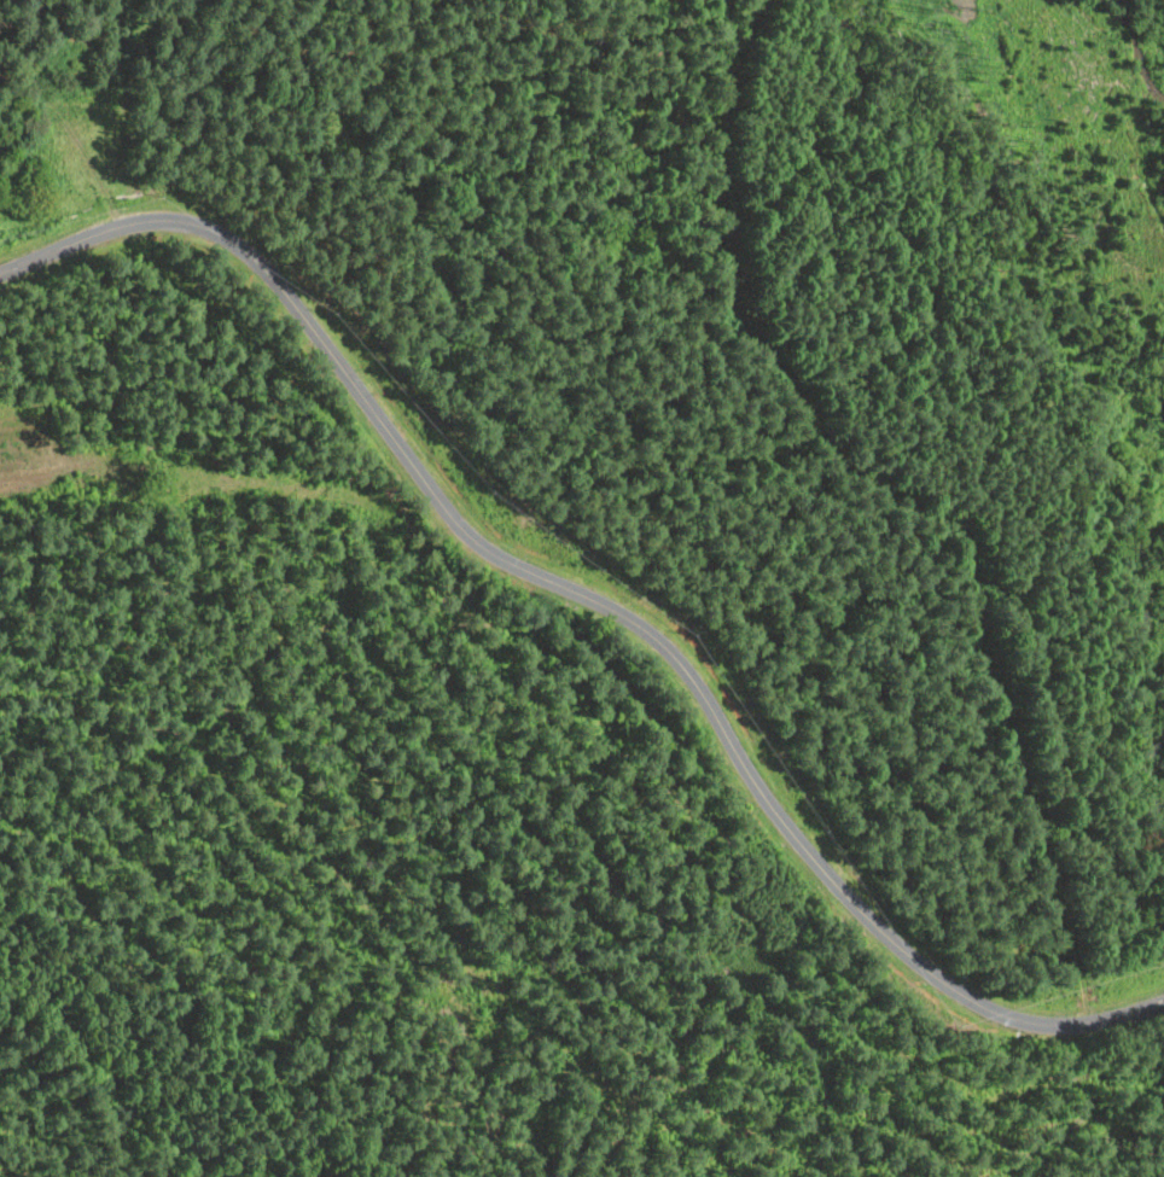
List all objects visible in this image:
road: (588, 596)

